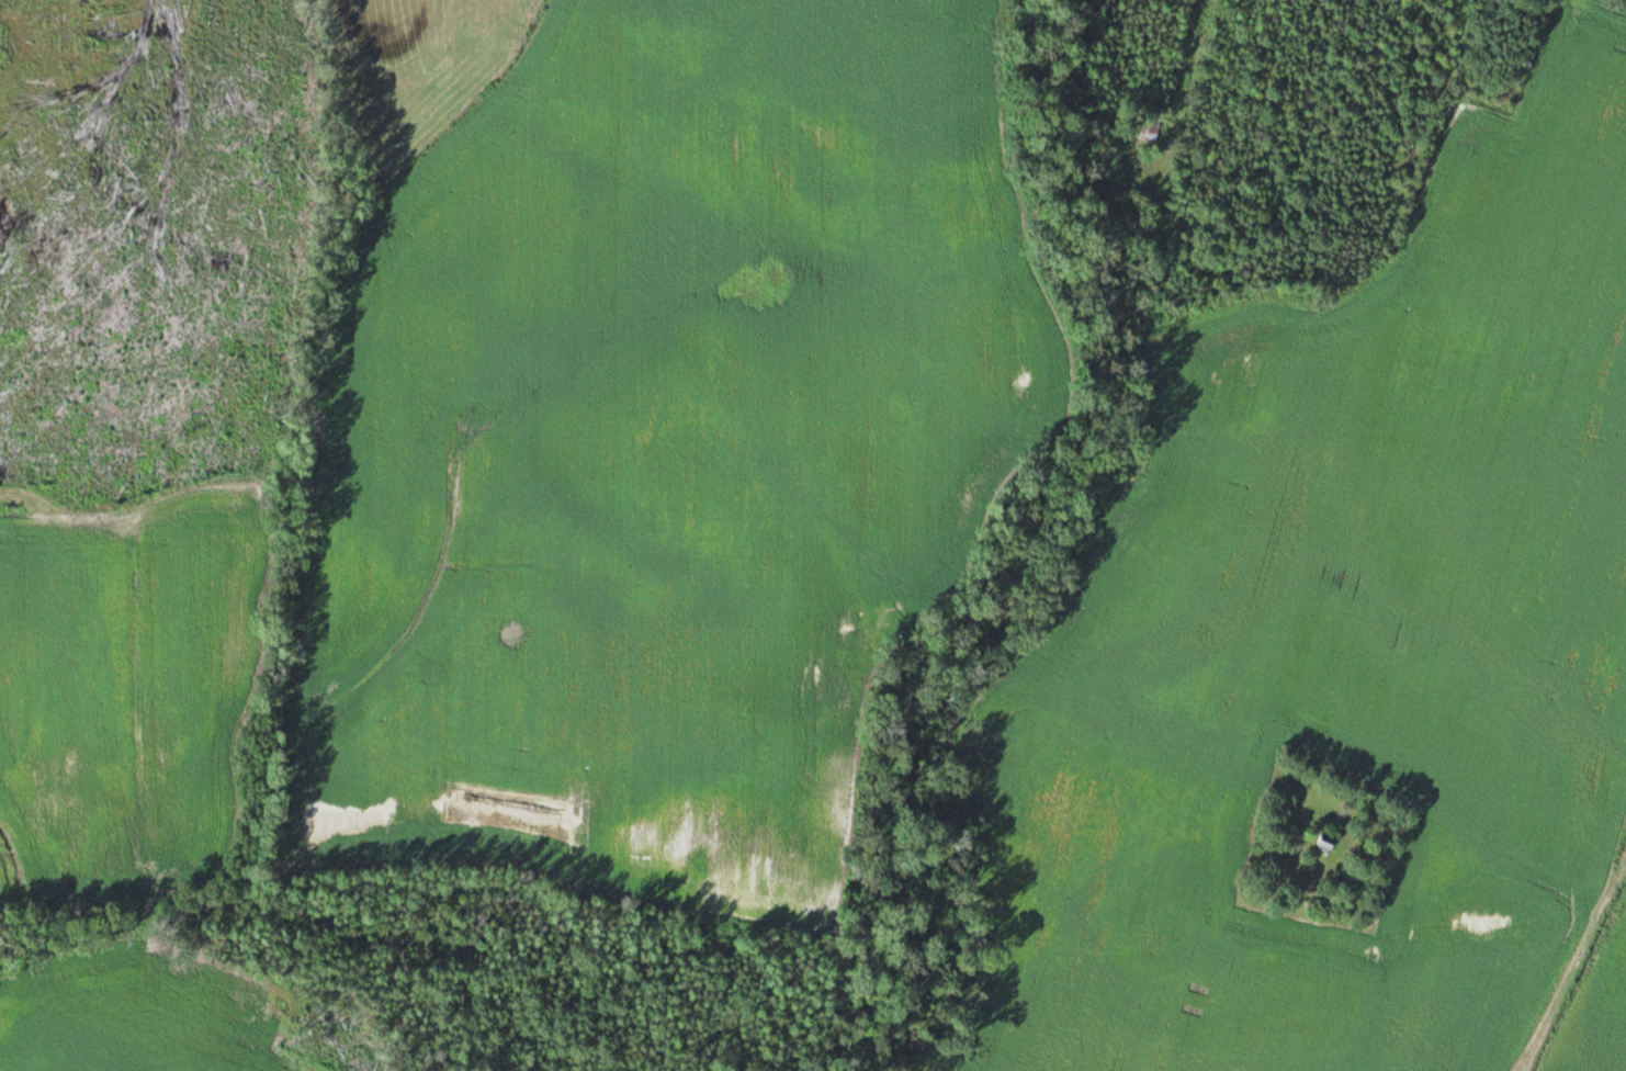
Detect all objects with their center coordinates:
building: (1150, 131)
building: (1325, 843)

